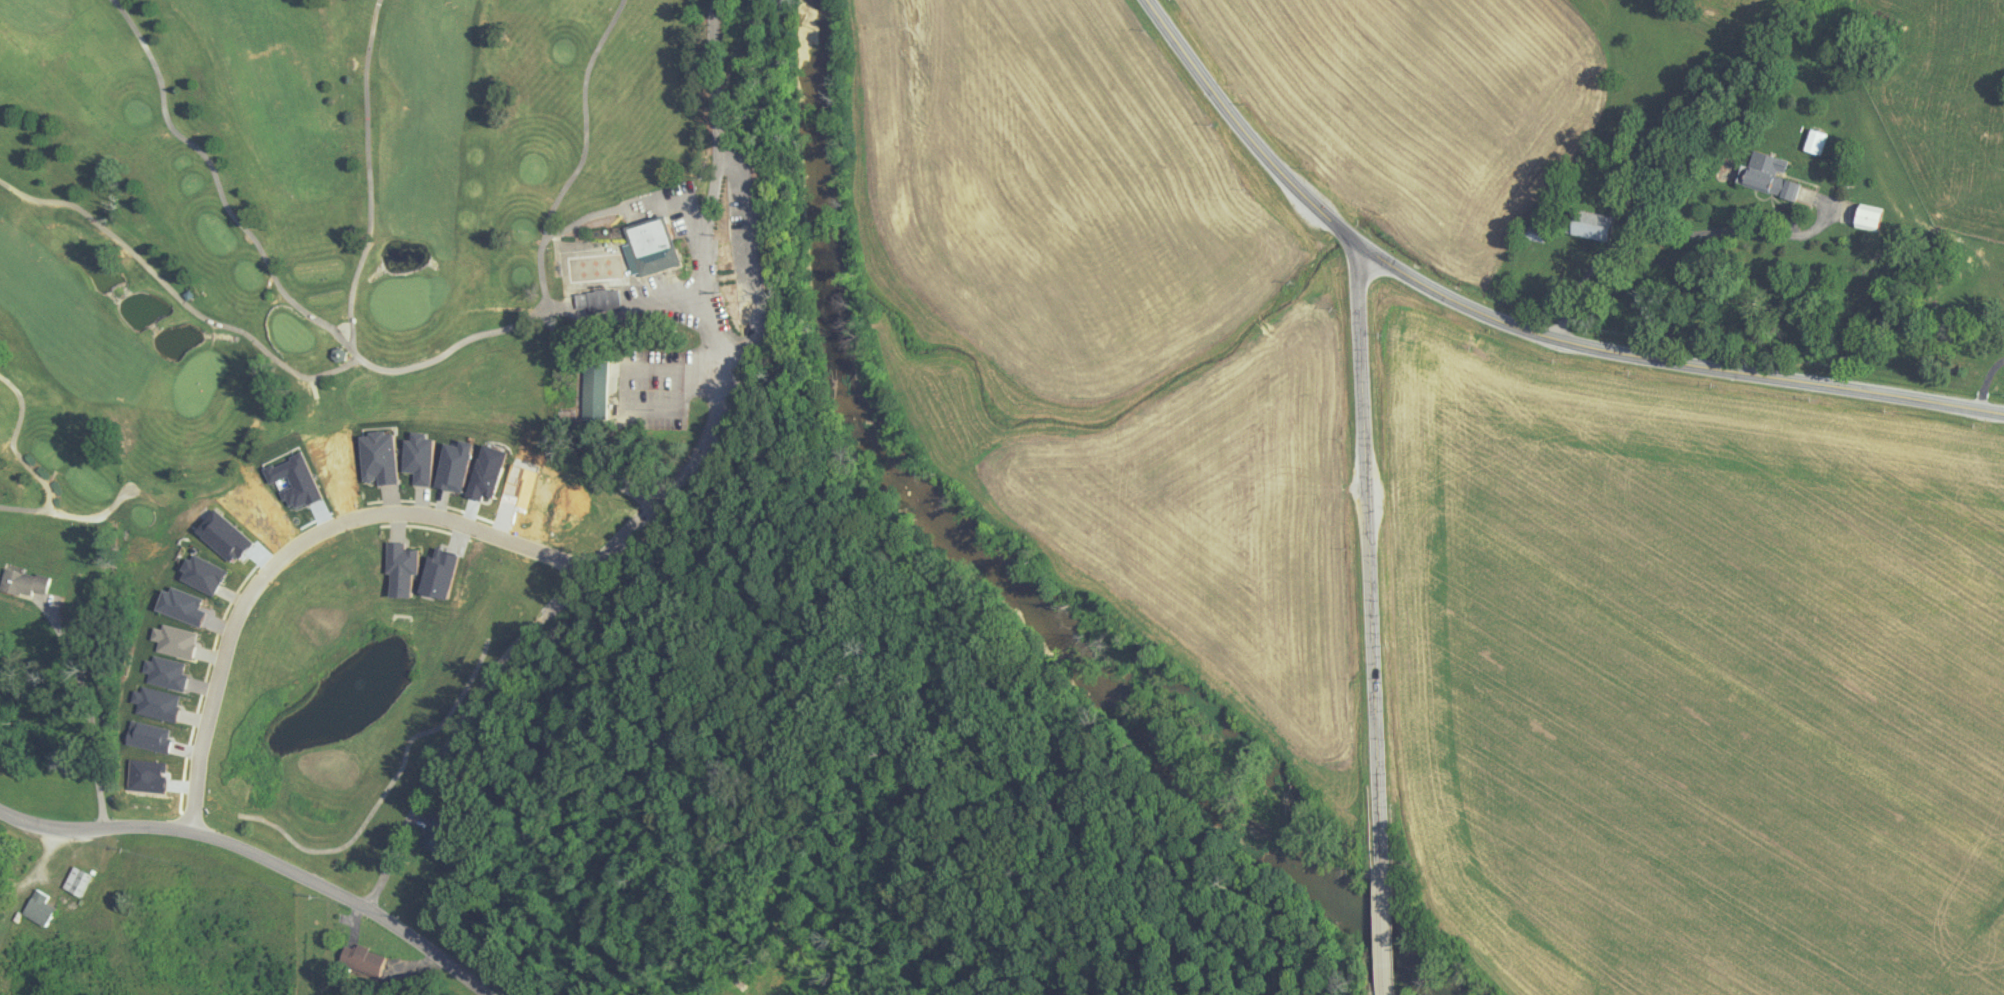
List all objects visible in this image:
road: (712, 86)
building: (1813, 142)
building: (1765, 176)
building: (1865, 217)
building: (1586, 224)
building: (648, 246)
road: (748, 256)
building: (596, 300)
road: (1514, 324)
park: (369, 364)
building: (593, 390)
road: (1366, 556)
road: (280, 564)
river: (999, 570)
building: (23, 583)
road: (518, 608)
road: (91, 707)
building: (435, 834)
road: (262, 858)
building: (74, 881)
building: (35, 908)
road: (1379, 925)
building: (360, 958)
road: (1381, 986)

